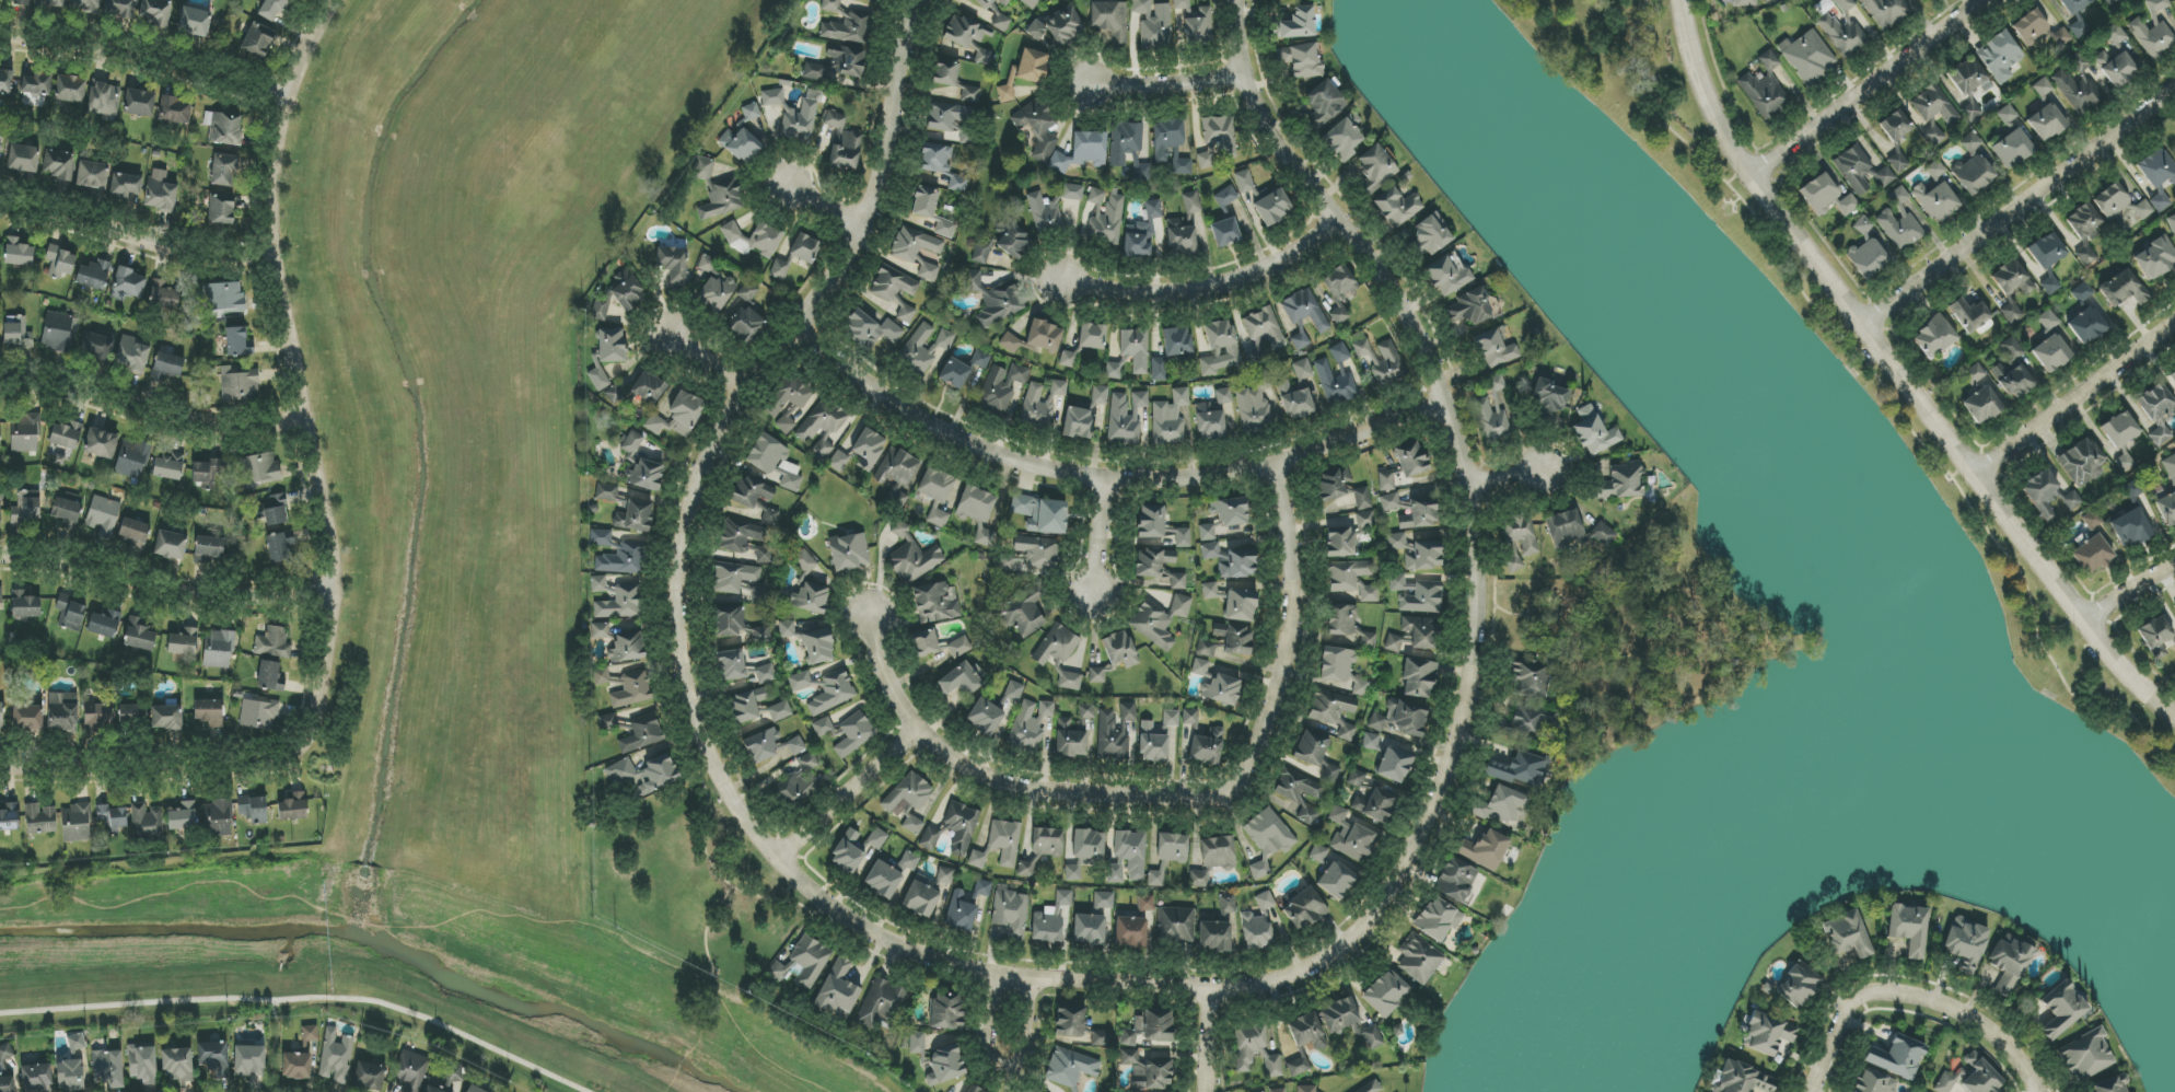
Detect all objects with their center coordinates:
building: (1303, 0)
building: (1918, 0)
building: (14, 1)
building: (873, 1)
building: (2108, 1)
building: (1004, 2)
building: (49, 3)
building: (985, 3)
building: (1031, 3)
building: (1744, 3)
building: (85, 5)
building: (830, 5)
building: (2074, 5)
building: (1182, 7)
building: (275, 8)
building: (120, 9)
building: (155, 12)
building: (1886, 12)
building: (195, 22)
building: (1110, 22)
building: (1002, 24)
building: (1153, 24)
building: (1298, 24)
building: (1065, 25)
building: (849, 27)
building: (1199, 27)
building: (1842, 27)
building: (2031, 27)
building: (2154, 30)
building: (1036, 31)
building: (963, 32)
building: (2115, 34)
building: (2060, 37)
building: (257, 40)
road: (146, 56)
building: (1807, 56)
building: (1999, 56)
building: (982, 57)
building: (1301, 60)
building: (838, 62)
building: (2115, 68)
building: (945, 71)
building: (1025, 72)
building: (1966, 77)
building: (5, 82)
building: (35, 83)
road: (1167, 83)
building: (1765, 88)
road: (1866, 88)
building: (2043, 88)
building: (70, 89)
building: (2078, 91)
building: (970, 94)
building: (104, 100)
building: (139, 103)
building: (1324, 103)
building: (175, 111)
building: (1933, 112)
building: (1970, 112)
building: (2007, 114)
building: (951, 119)
building: (2046, 123)
building: (1895, 126)
building: (223, 128)
building: (1037, 129)
building: (764, 138)
building: (1342, 140)
building: (1125, 141)
building: (1218, 141)
building: (842, 143)
building: (1970, 143)
building: (1170, 148)
building: (2013, 149)
building: (1082, 151)
building: (23, 159)
building: (935, 159)
building: (1897, 161)
building: (58, 164)
building: (2156, 167)
building: (1374, 169)
building: (224, 170)
building: (1140, 170)
building: (1861, 170)
building: (1935, 170)
building: (1974, 174)
building: (92, 175)
building: (1244, 182)
building: (958, 184)
building: (126, 186)
building: (160, 191)
building: (717, 191)
building: (1072, 193)
building: (1096, 196)
building: (1826, 196)
building: (1225, 197)
building: (1936, 201)
building: (2160, 201)
building: (924, 202)
building: (1190, 202)
building: (2120, 205)
road: (824, 207)
building: (1272, 207)
building: (1397, 207)
building: (1153, 209)
building: (221, 210)
road: (2016, 210)
building: (1046, 213)
building: (1899, 221)
building: (1107, 223)
building: (2172, 223)
building: (1863, 225)
building: (945, 229)
building: (2084, 231)
building: (1225, 232)
building: (1429, 235)
building: (1180, 237)
road: (135, 239)
building: (757, 239)
building: (1138, 239)
building: (914, 245)
building: (805, 248)
building: (981, 251)
building: (18, 253)
building: (1868, 257)
building: (2155, 258)
building: (2046, 260)
building: (59, 262)
building: (672, 268)
building: (781, 268)
building: (928, 271)
building: (1449, 274)
building: (93, 275)
building: (2012, 279)
building: (893, 283)
building: (1339, 283)
building: (128, 284)
building: (2124, 289)
road: (1205, 290)
building: (2082, 291)
building: (163, 294)
building: (618, 295)
building: (225, 297)
building: (993, 299)
building: (1472, 306)
building: (2011, 313)
building: (906, 314)
building: (1969, 314)
building: (746, 315)
building: (1304, 316)
building: (1339, 316)
building: (2047, 320)
building: (2086, 326)
building: (1264, 327)
building: (870, 329)
building: (57, 332)
building: (18, 333)
building: (1044, 336)
building: (1933, 337)
building: (239, 342)
building: (1010, 342)
building: (1085, 342)
building: (1178, 344)
building: (610, 346)
building: (94, 347)
building: (1219, 348)
building: (2012, 348)
building: (915, 349)
building: (1493, 349)
building: (2051, 352)
building: (132, 353)
building: (1131, 353)
building: (1255, 355)
building: (980, 359)
road: (703, 364)
building: (1388, 365)
building: (167, 367)
building: (1159, 370)
building: (954, 373)
building: (1975, 373)
building: (2173, 373)
road: (298, 375)
building: (1336, 376)
road: (1897, 376)
building: (598, 379)
building: (2013, 381)
building: (239, 384)
building: (1001, 386)
building: (648, 388)
building: (789, 395)
building: (1100, 395)
building: (1223, 395)
building: (1549, 396)
road: (2074, 400)
building: (1040, 404)
building: (1981, 405)
building: (1254, 407)
building: (1492, 411)
building: (2157, 413)
road: (152, 415)
building: (678, 415)
building: (1126, 417)
building: (1170, 418)
building: (789, 420)
building: (1214, 420)
building: (1078, 423)
building: (822, 428)
building: (1594, 431)
building: (25, 434)
building: (66, 435)
building: (101, 443)
building: (631, 443)
building: (868, 449)
building: (841, 458)
building: (131, 460)
building: (1411, 460)
building: (774, 461)
building: (2081, 463)
building: (167, 466)
building: (2170, 466)
building: (898, 467)
building: (260, 469)
building: (203, 474)
building: (645, 475)
road: (1508, 478)
building: (1386, 481)
building: (1621, 483)
building: (937, 485)
road: (1102, 485)
building: (1342, 489)
building: (749, 491)
building: (606, 492)
building: (2049, 495)
building: (1391, 502)
building: (976, 504)
building: (26, 508)
building: (66, 509)
building: (2166, 509)
building: (275, 511)
building: (1230, 511)
building: (1420, 513)
building: (1042, 514)
building: (103, 515)
building: (633, 516)
building: (770, 518)
building: (938, 518)
building: (1365, 519)
building: (2092, 520)
building: (1151, 521)
building: (1565, 527)
road: (1472, 528)
building: (2130, 528)
building: (1208, 532)
building: (133, 533)
building: (1521, 534)
building: (1602, 534)
building: (740, 535)
building: (985, 536)
building: (601, 537)
road: (1103, 537)
building: (1183, 538)
building: (1340, 543)
building: (171, 545)
building: (279, 547)
building: (208, 548)
building: (849, 551)
building: (1416, 553)
building: (2091, 553)
building: (764, 555)
building: (1032, 556)
building: (912, 558)
building: (623, 559)
building: (1231, 560)
building: (804, 561)
building: (1152, 561)
building: (1513, 561)
building: (733, 577)
building: (1353, 579)
road: (1491, 579)
building: (1178, 581)
building: (1399, 583)
building: (600, 585)
road: (165, 591)
building: (1209, 591)
road: (2127, 591)
building: (758, 594)
building: (811, 599)
building: (1422, 599)
building: (621, 603)
building: (935, 603)
building: (1240, 605)
building: (2174, 605)
building: (25, 606)
building: (1023, 611)
building: (70, 613)
road: (1523, 614)
building: (1341, 619)
building: (1160, 620)
building: (730, 621)
building: (0, 623)
building: (105, 624)
building: (787, 629)
building: (601, 630)
building: (1415, 634)
building: (139, 635)
building: (760, 635)
park: (1639, 636)
building: (1235, 638)
building: (1369, 640)
building: (183, 642)
building: (924, 642)
building: (274, 643)
building: (1057, 646)
road: (678, 647)
building: (818, 647)
building: (959, 647)
building: (1207, 647)
building: (627, 648)
building: (218, 649)
building: (1120, 649)
building: (732, 664)
building: (1337, 664)
building: (765, 673)
building: (1096, 675)
building: (269, 676)
building: (601, 676)
building: (1418, 678)
building: (961, 679)
building: (1530, 679)
building: (800, 681)
road: (892, 681)
building: (1069, 681)
building: (1217, 684)
building: (632, 689)
building: (1013, 692)
building: (833, 693)
building: (746, 705)
building: (62, 711)
building: (780, 711)
building: (1086, 711)
building: (209, 712)
building: (1334, 712)
building: (131, 713)
building: (258, 713)
building: (96, 716)
building: (1, 717)
building: (985, 717)
building: (1190, 717)
building: (1401, 717)
building: (27, 718)
building: (166, 718)
building: (1171, 718)
building: (1531, 723)
building: (1028, 725)
building: (825, 730)
building: (1115, 732)
building: (641, 733)
building: (1165, 733)
building: (854, 734)
building: (1069, 740)
building: (1370, 741)
building: (1152, 744)
building: (763, 745)
building: (796, 745)
building: (1207, 747)
building: (1311, 748)
building: (1394, 764)
road: (144, 767)
building: (1517, 768)
building: (643, 775)
building: (1329, 775)
building: (1357, 779)
building: (799, 783)
road: (1234, 785)
building: (1300, 793)
building: (907, 794)
road: (849, 800)
building: (1375, 804)
building: (1504, 805)
building: (293, 808)
building: (254, 809)
building: (112, 816)
building: (183, 816)
building: (10, 817)
building: (39, 818)
building: (218, 818)
building: (146, 820)
building: (75, 823)
building: (912, 824)
building: (953, 829)
building: (1351, 836)
building: (877, 838)
building: (1267, 839)
building: (1004, 840)
building: (1172, 847)
building: (1042, 849)
building: (1485, 849)
building: (848, 852)
building: (1085, 852)
building: (1318, 853)
building: (1128, 855)
building: (910, 860)
building: (1213, 860)
building: (945, 875)
building: (1156, 876)
building: (883, 880)
building: (1337, 881)
building: (1456, 881)
building: (982, 888)
building: (920, 899)
building: (1104, 901)
building: (1145, 903)
building: (1226, 905)
building: (1303, 908)
building: (962, 910)
building: (1011, 913)
building: (1052, 919)
building: (1438, 919)
building: (1260, 922)
building: (1175, 926)
building: (1908, 928)
building: (1089, 929)
building: (1130, 932)
building: (1847, 934)
building: (1213, 937)
building: (1965, 943)
building: (1419, 959)
building: (810, 961)
building: (2009, 963)
building: (783, 971)
building: (1799, 985)
building: (838, 990)
building: (1385, 992)
road: (303, 998)
building: (883, 1004)
building: (946, 1010)
building: (2062, 1010)
building: (1338, 1015)
road: (1963, 1017)
building: (1070, 1021)
building: (1149, 1026)
building: (1306, 1032)
building: (310, 1034)
building: (1767, 1034)
building: (1372, 1037)
building: (1101, 1038)
road: (1207, 1039)
road: (1829, 1042)
building: (916, 1043)
road: (275, 1045)
building: (1255, 1050)
building: (2086, 1055)
building: (336, 1056)
building: (1897, 1057)
building: (213, 1058)
building: (249, 1059)
building: (142, 1064)
building: (946, 1064)
building: (177, 1065)
building: (296, 1066)
building: (1070, 1067)
building: (1298, 1067)
building: (108, 1068)
road: (1001, 1068)
building: (410, 1069)
building: (1147, 1071)
building: (70, 1074)
building: (369, 1074)
building: (36, 1078)
building: (447, 1080)
building: (1743, 1080)
building: (1874, 1082)
building: (2112, 1084)
building: (1372, 1088)
building: (475, 1089)
building: (974, 1089)
building: (1306, 1089)
building: (1278, 1090)

